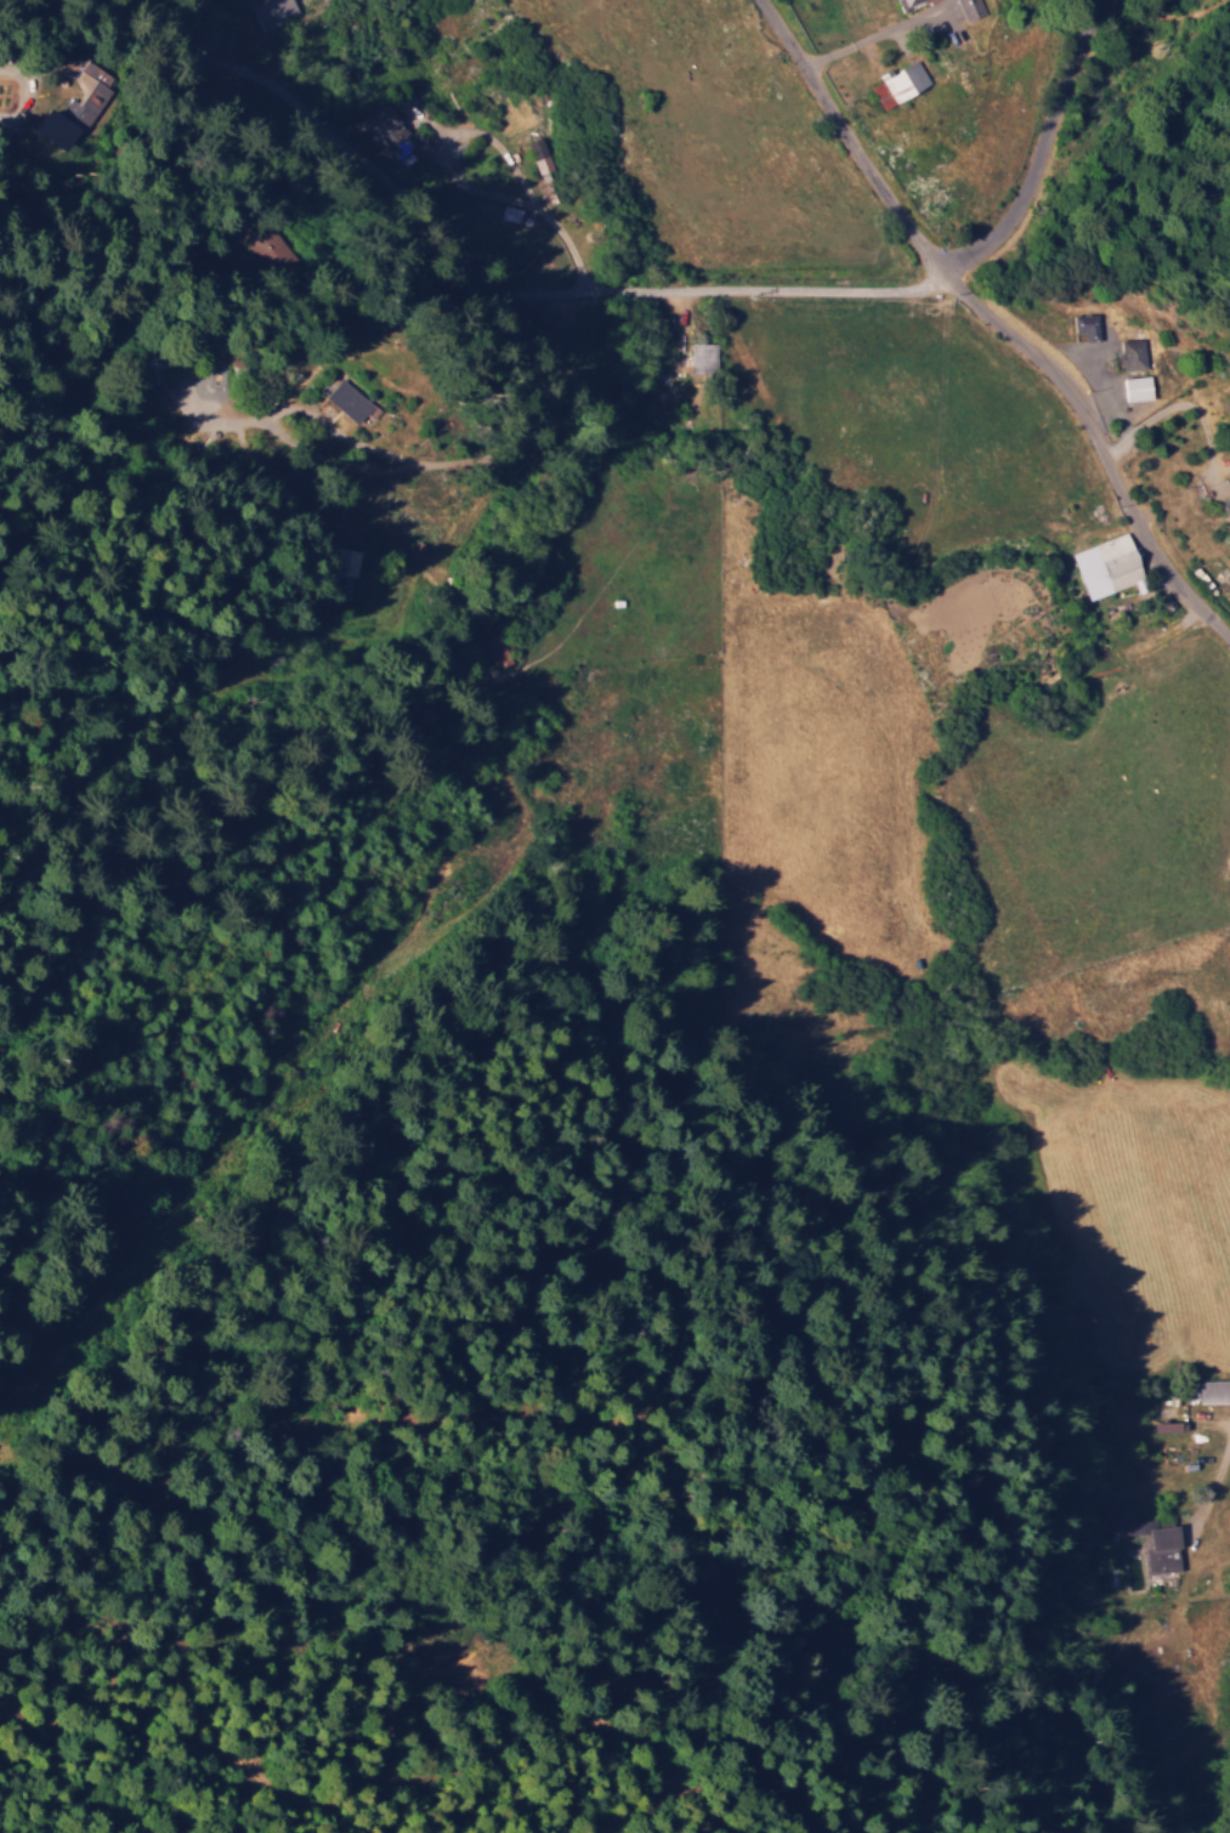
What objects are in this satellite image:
building: (908, 4)
building: (971, 8)
road: (175, 25)
building: (900, 84)
building: (81, 103)
road: (146, 138)
road: (1038, 148)
building: (539, 154)
road: (157, 223)
road: (545, 293)
road: (994, 324)
building: (1087, 325)
building: (1134, 353)
building: (1138, 387)
building: (351, 401)
building: (1228, 482)
road: (430, 503)
building: (1228, 507)
building: (1107, 564)
building: (1215, 1390)
building: (1173, 1425)
road: (1208, 1474)
building: (1151, 1537)

